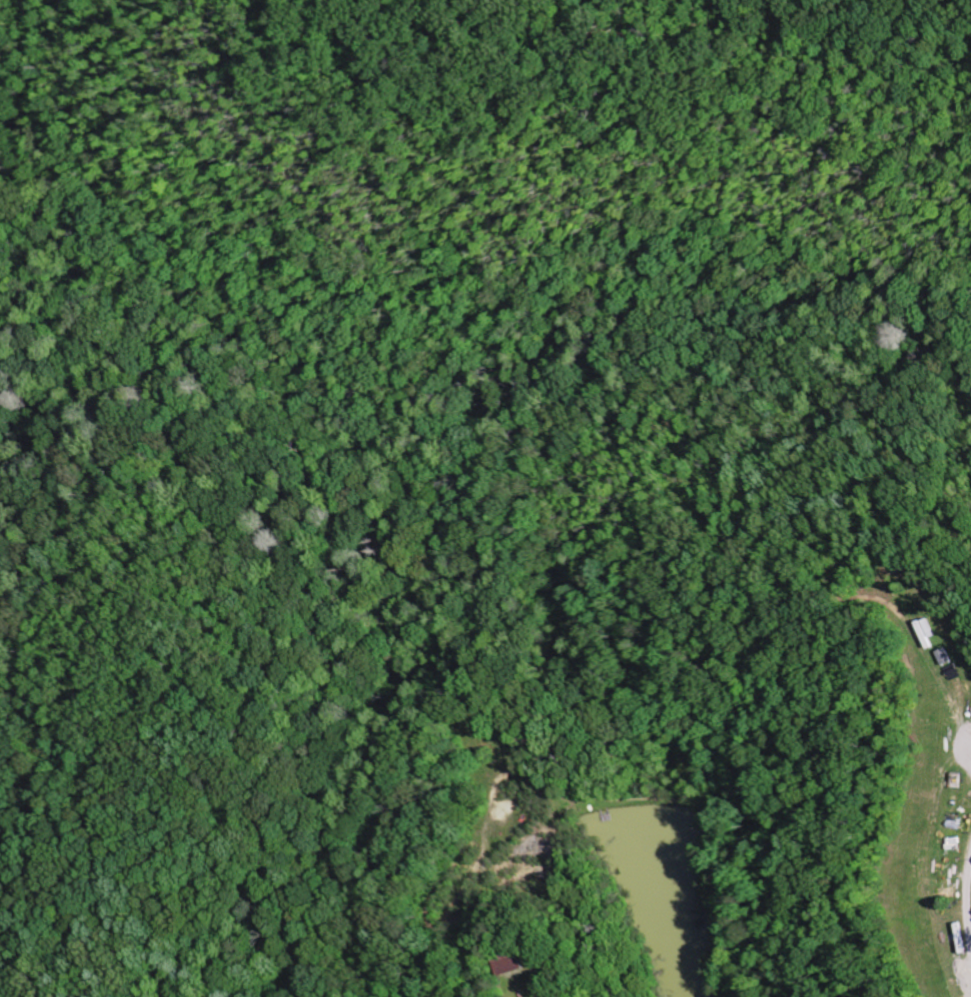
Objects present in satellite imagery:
road: (968, 892)

